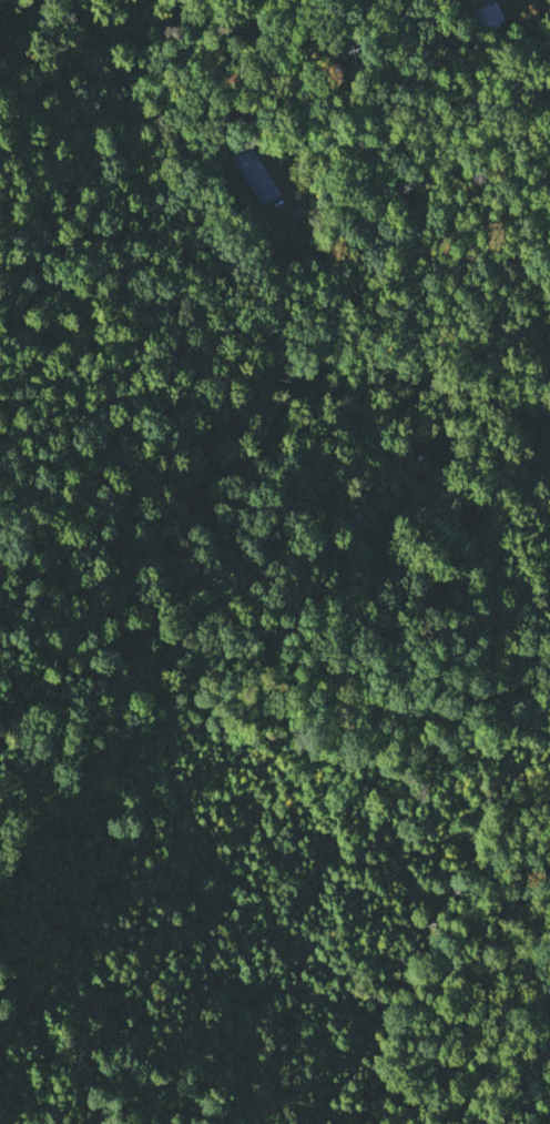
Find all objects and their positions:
building: (255, 174)

